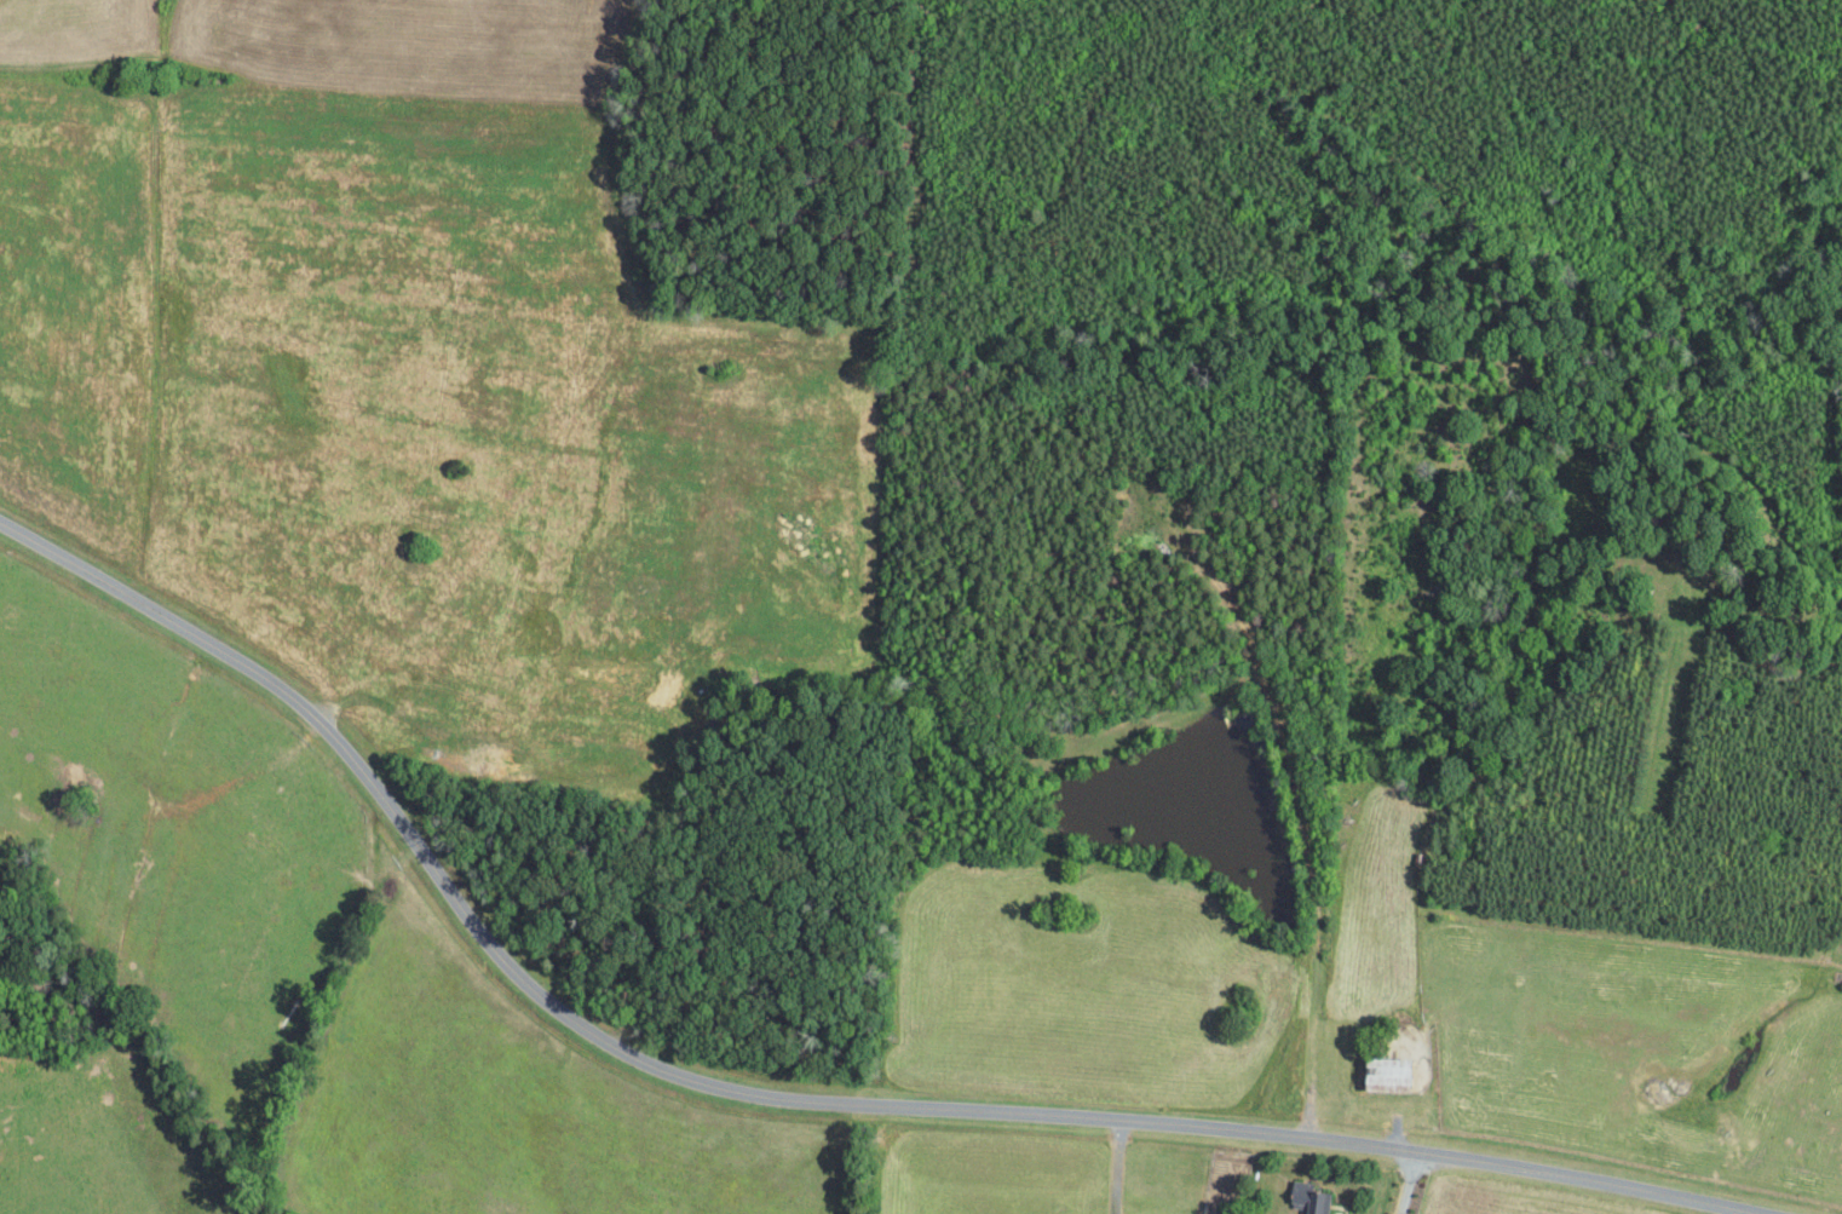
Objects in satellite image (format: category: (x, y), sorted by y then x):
road: (770, 1075)
road: (1308, 1078)
road: (1405, 1183)
building: (1306, 1197)

